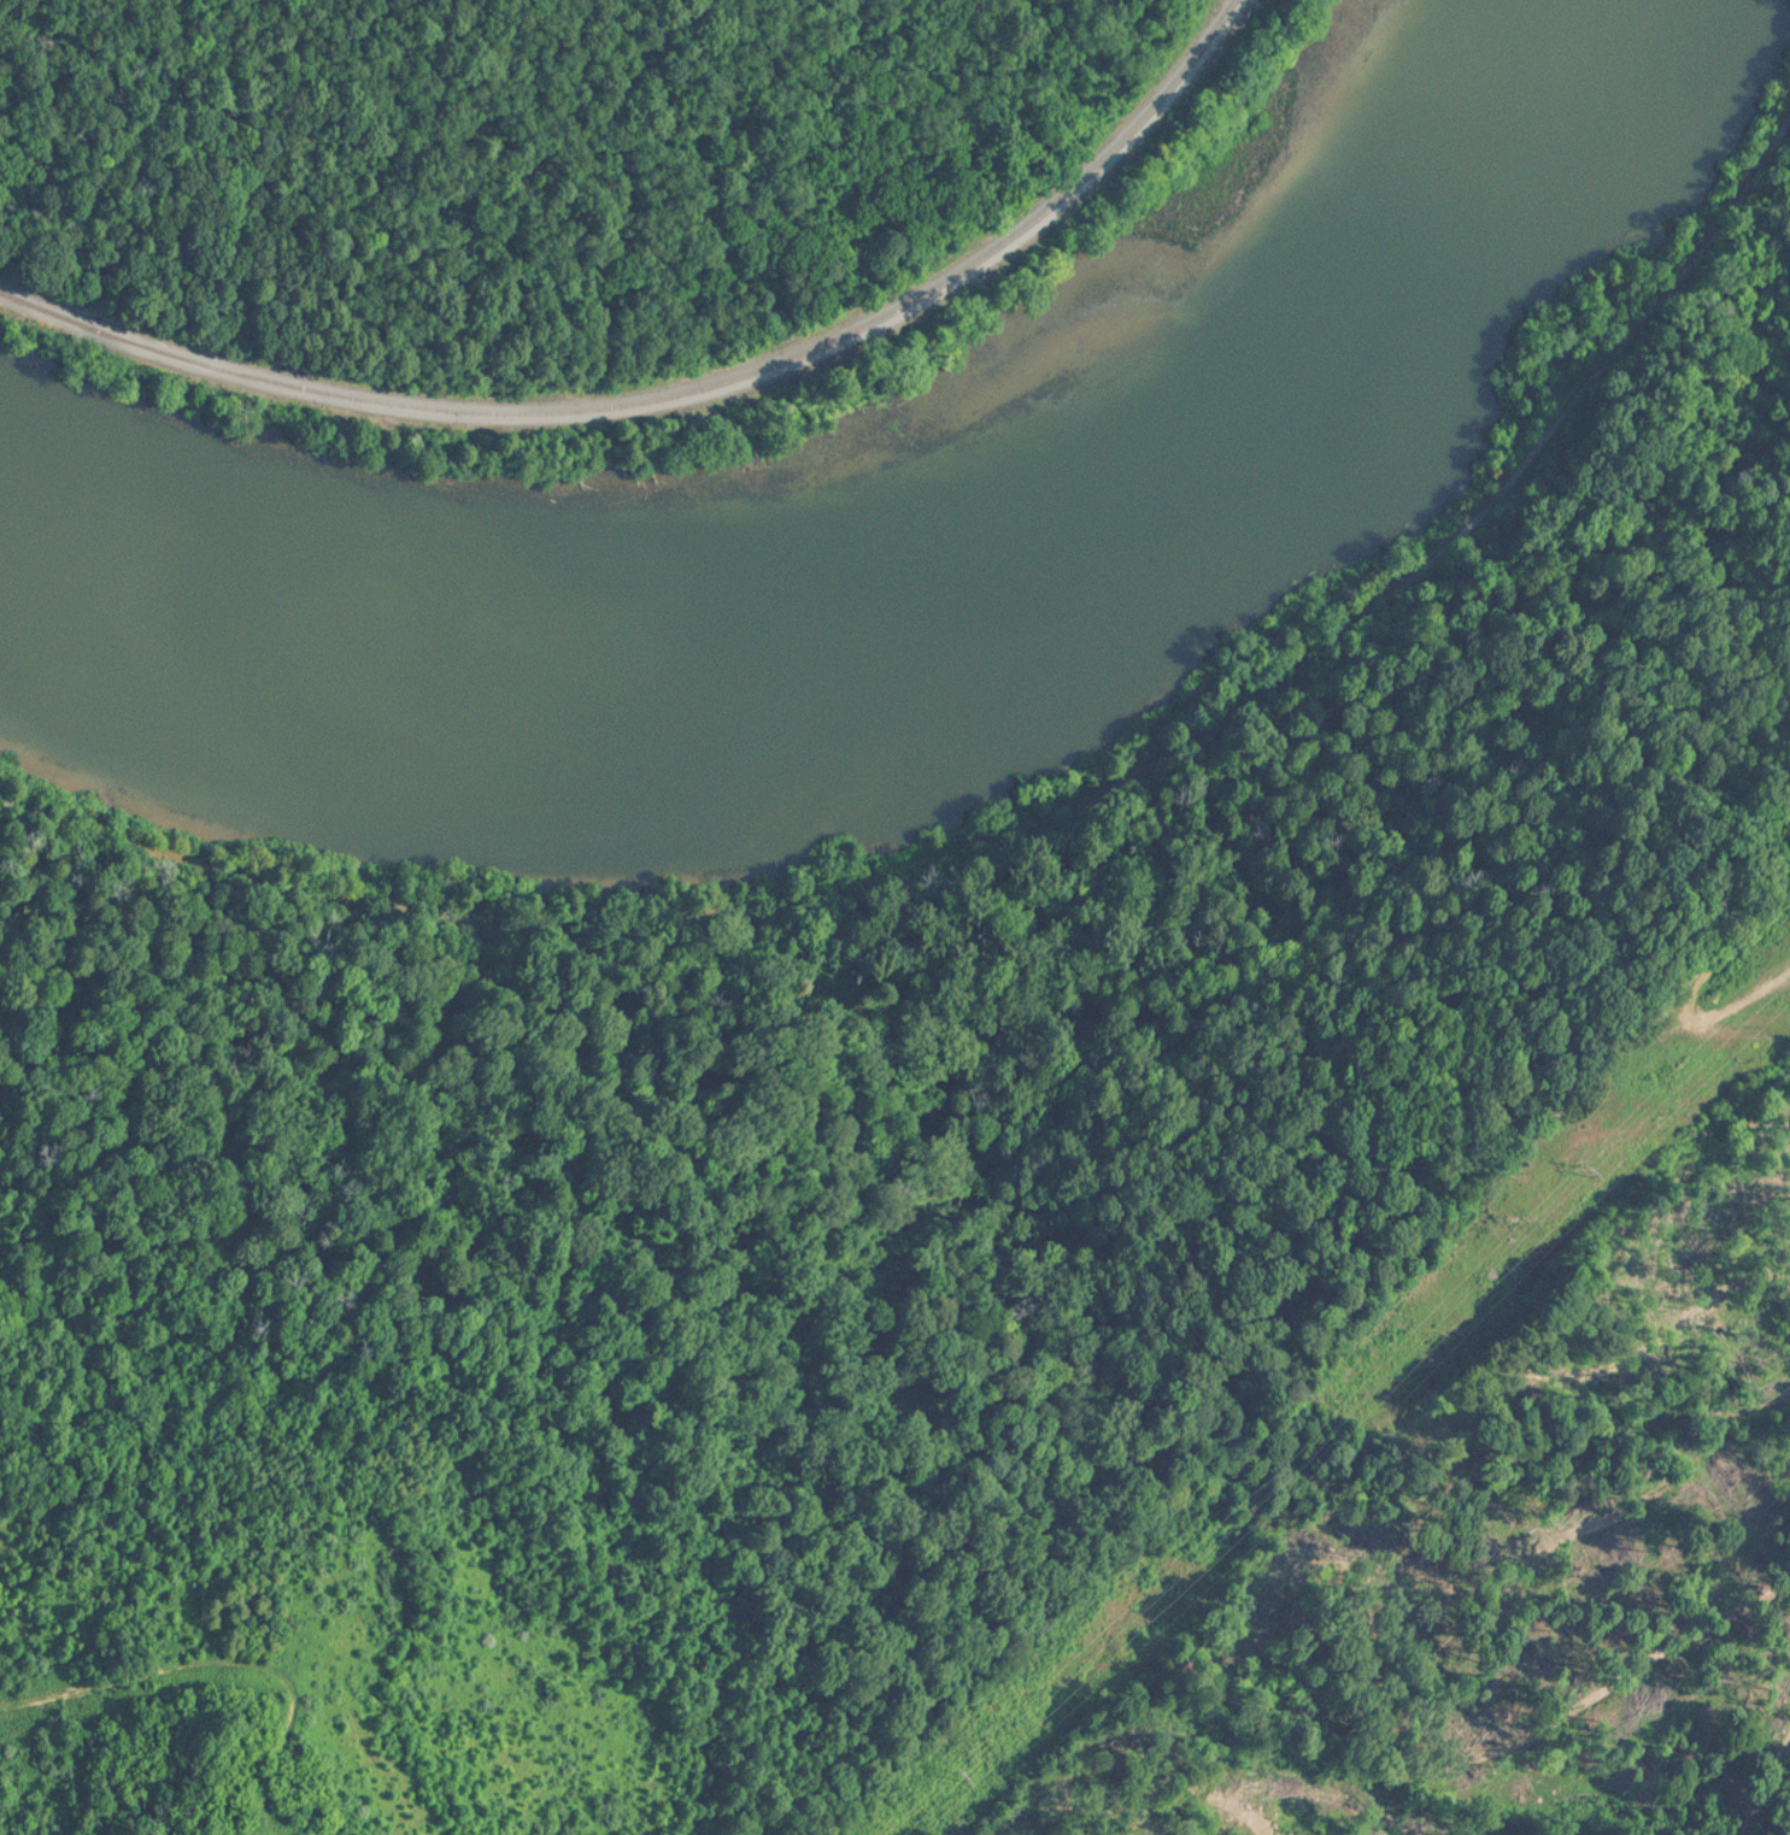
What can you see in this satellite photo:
railway: (679, 400)
river: (921, 621)
road: (1029, 825)

